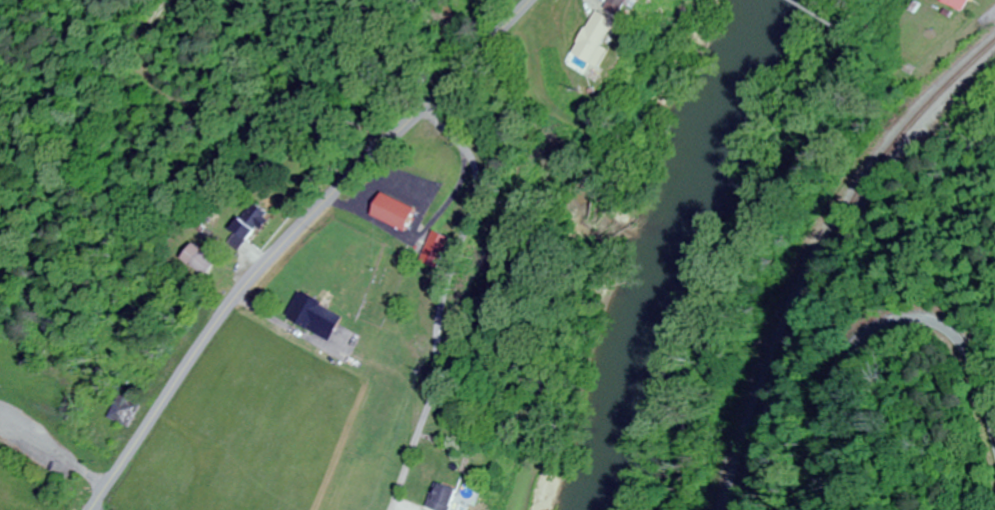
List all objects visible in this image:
building: (955, 4)
building: (618, 6)
road: (504, 32)
building: (594, 39)
building: (404, 212)
building: (260, 219)
building: (434, 250)
river: (660, 250)
railway: (822, 254)
building: (207, 259)
road: (262, 270)
building: (323, 315)
road: (869, 330)
building: (129, 410)
building: (439, 497)

